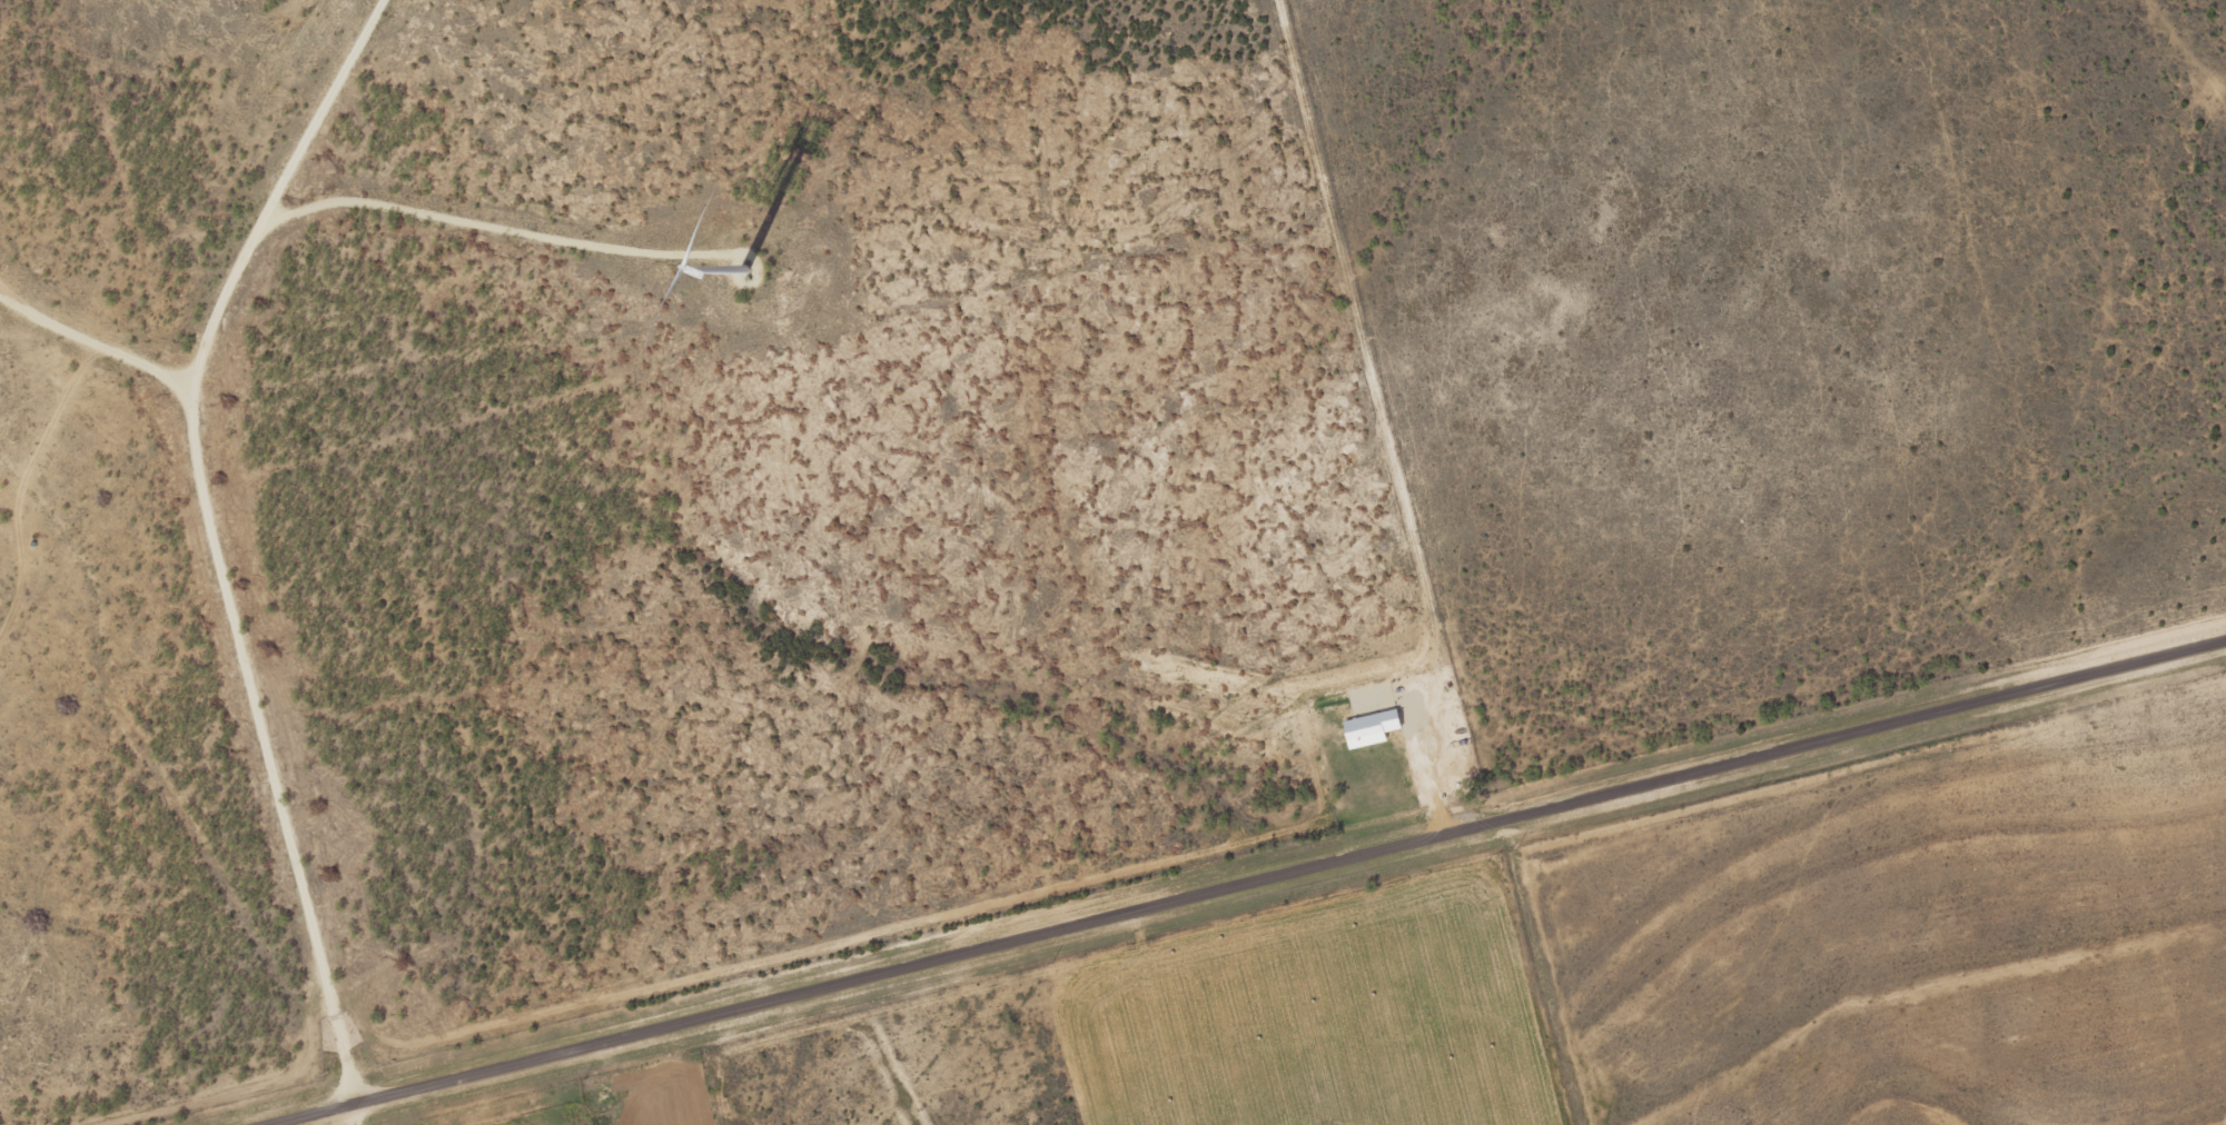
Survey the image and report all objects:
wind turbine: (743, 271)
building: (1372, 728)
road: (1239, 884)

